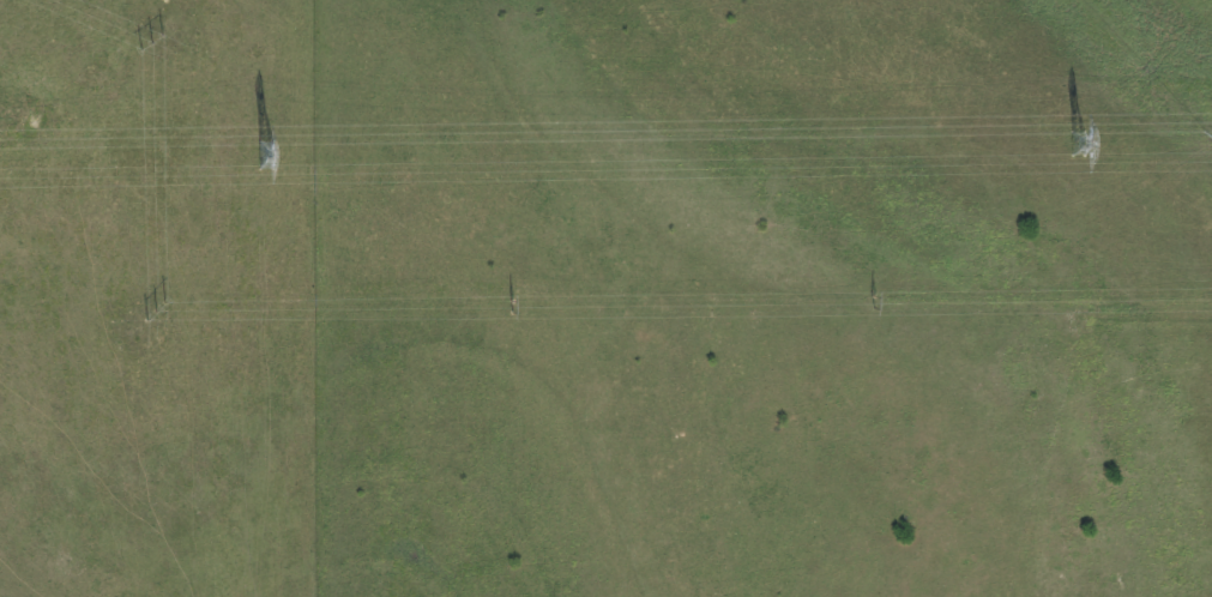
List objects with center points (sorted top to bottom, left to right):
power tower: (1073, 145)
power tower: (264, 153)

